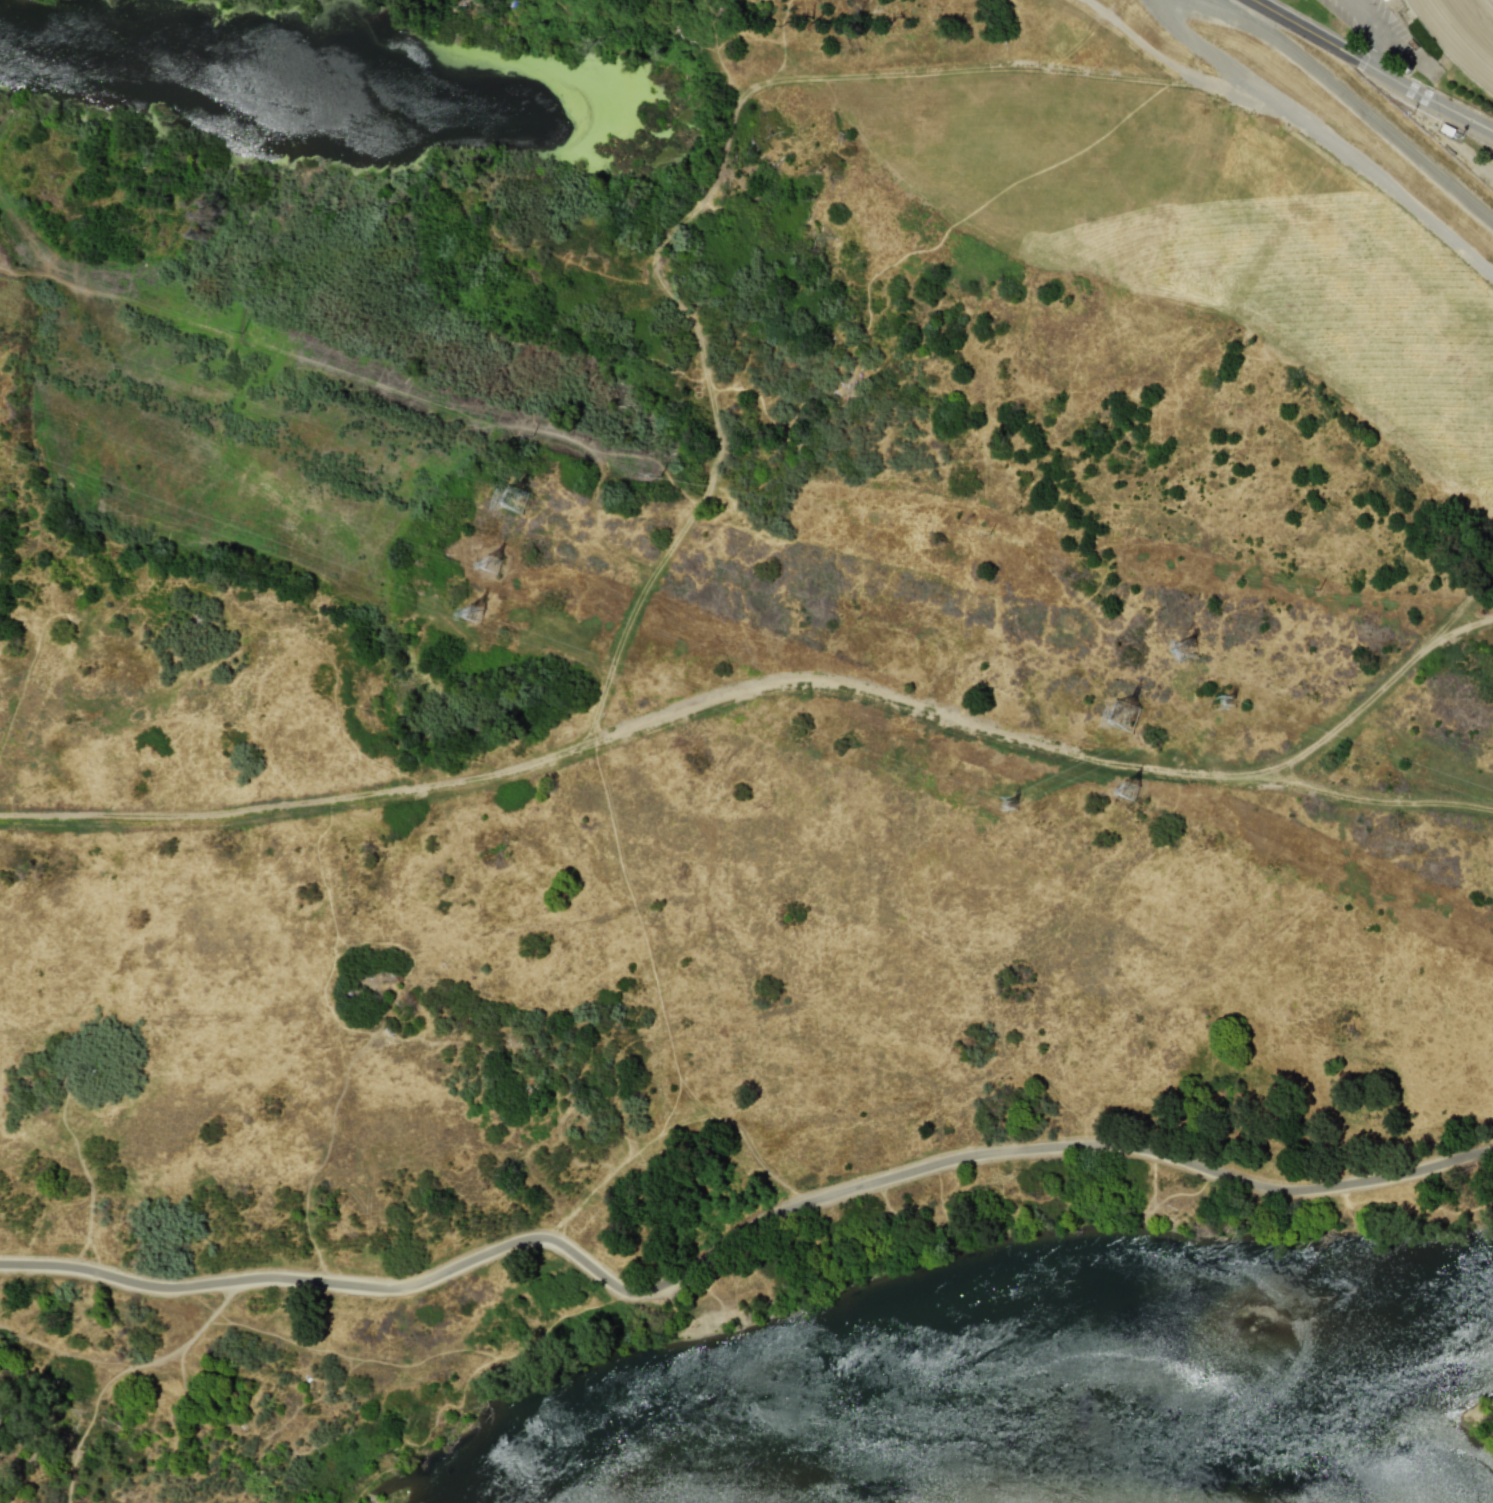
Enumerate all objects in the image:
road: (1364, 12)
track: (1462, 33)
track: (1462, 33)
road: (1381, 35)
road: (1017, 37)
road: (1373, 48)
road: (1150, 50)
road: (1371, 68)
theme park: (1403, 72)
road: (1351, 105)
road: (1322, 136)
road: (715, 185)
power tower: (524, 500)
power tower: (499, 565)
power tower: (483, 614)
power tower: (1189, 649)
road: (145, 672)
road: (781, 689)
power tower: (1230, 700)
power tower: (1126, 716)
power tower: (1130, 790)
road: (1380, 801)
power tower: (1012, 806)
road: (856, 1191)
road: (129, 1282)
river: (1030, 1328)
road: (422, 1360)
road: (142, 1361)

